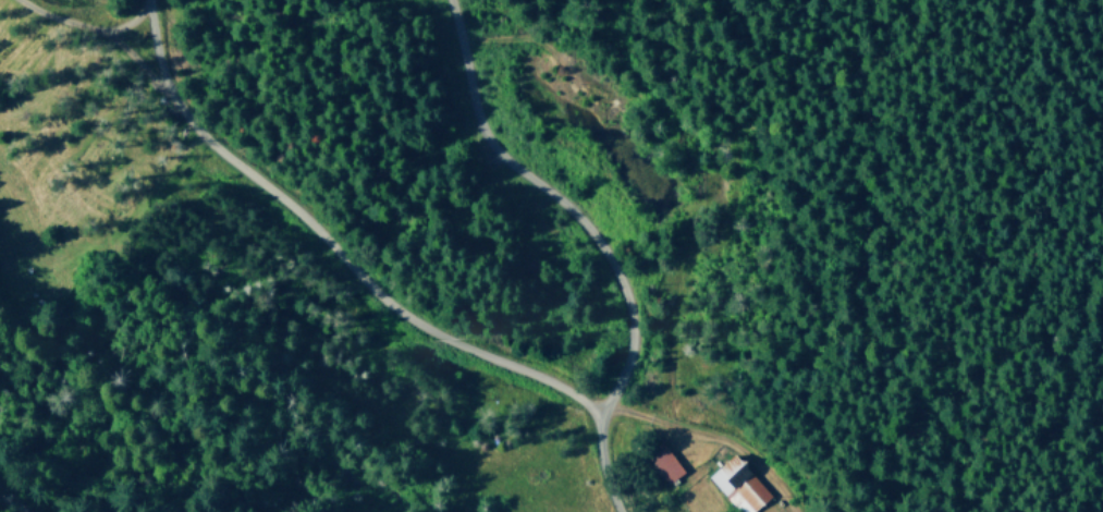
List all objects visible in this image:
building: (664, 461)
building: (739, 484)
road: (9, 502)

